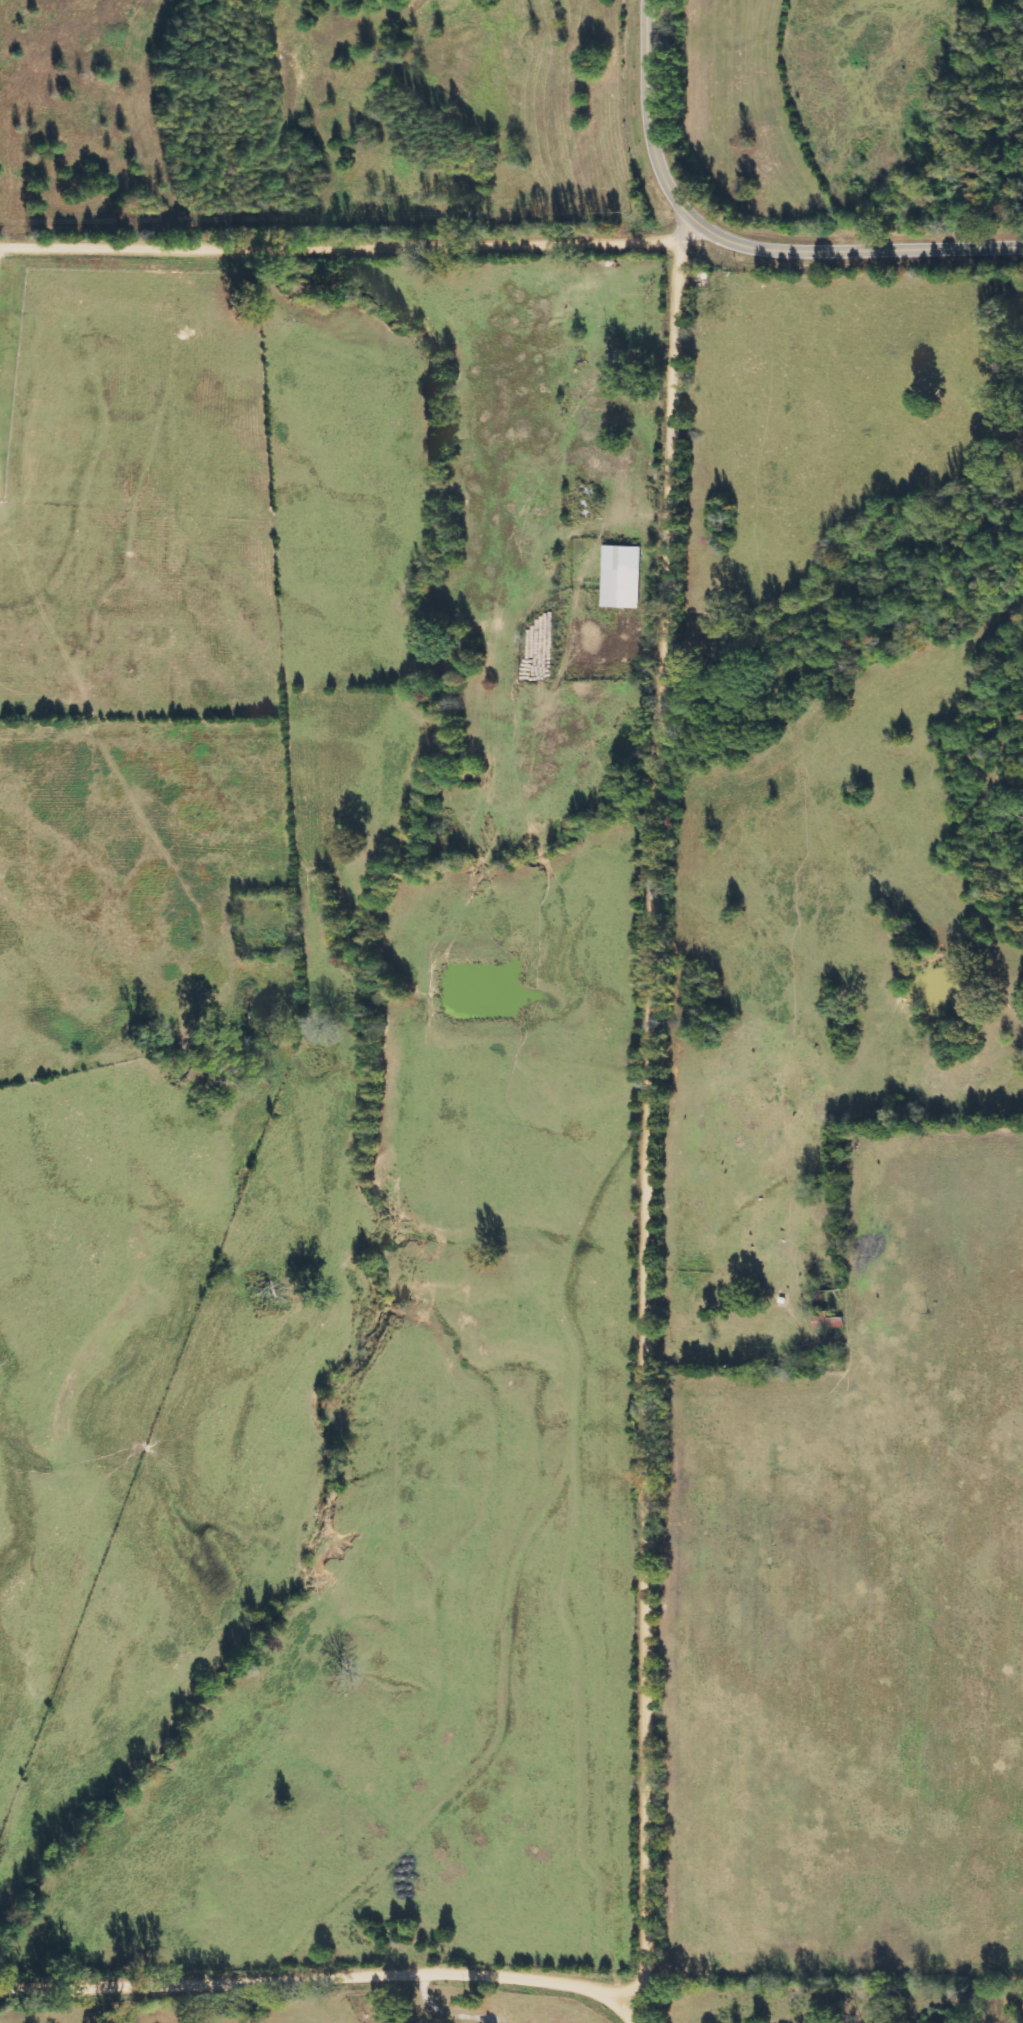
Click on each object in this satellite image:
road: (678, 226)
road: (738, 243)
road: (337, 251)
building: (620, 577)
road: (654, 1131)
road: (326, 1979)

